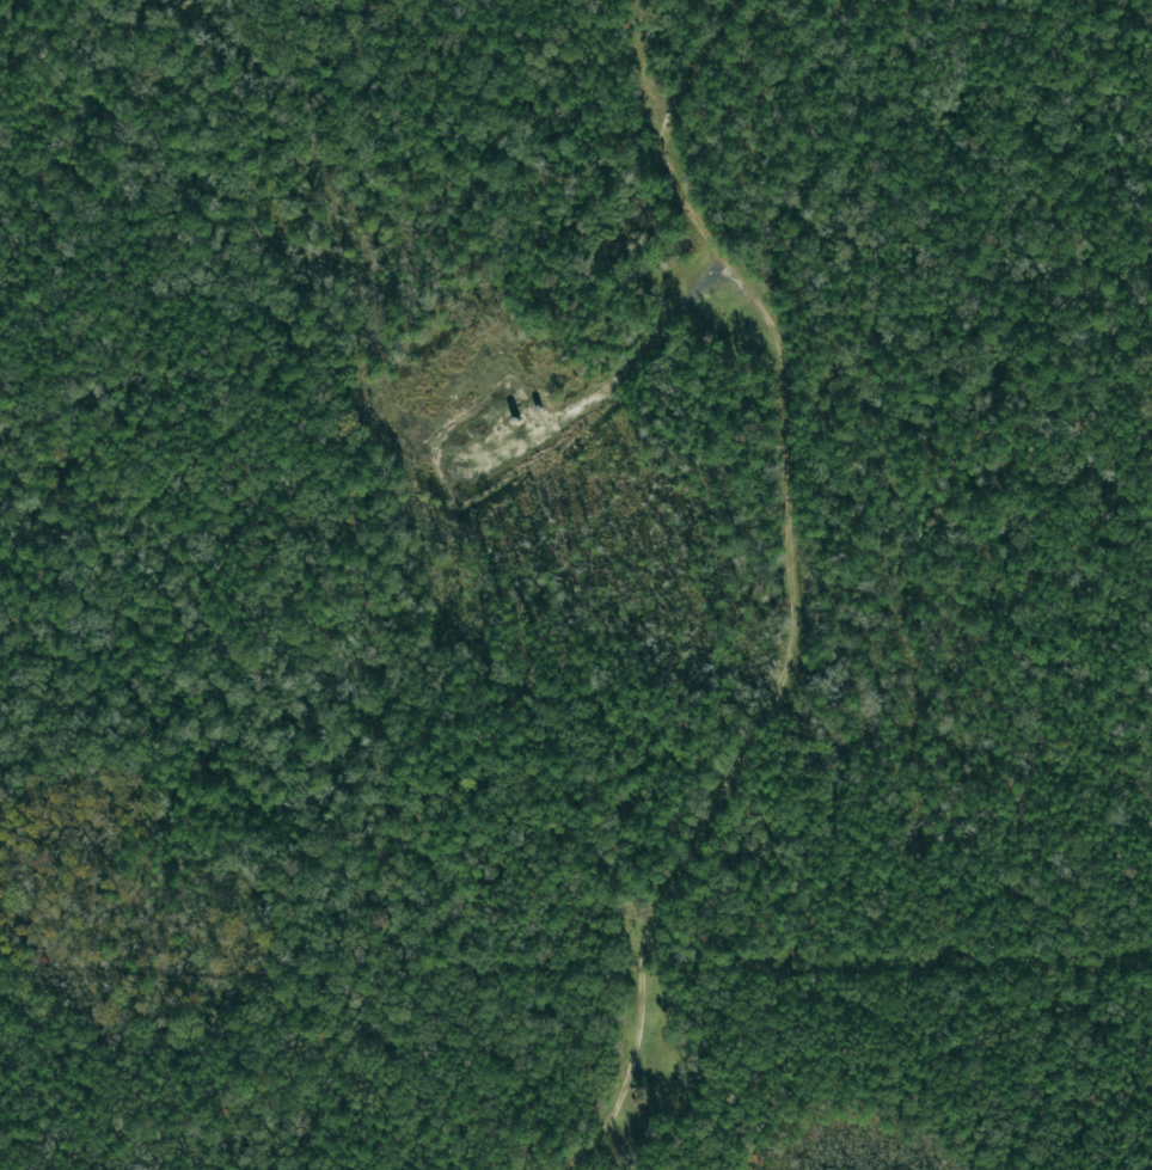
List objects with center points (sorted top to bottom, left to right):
road: (625, 369)
road: (788, 587)

